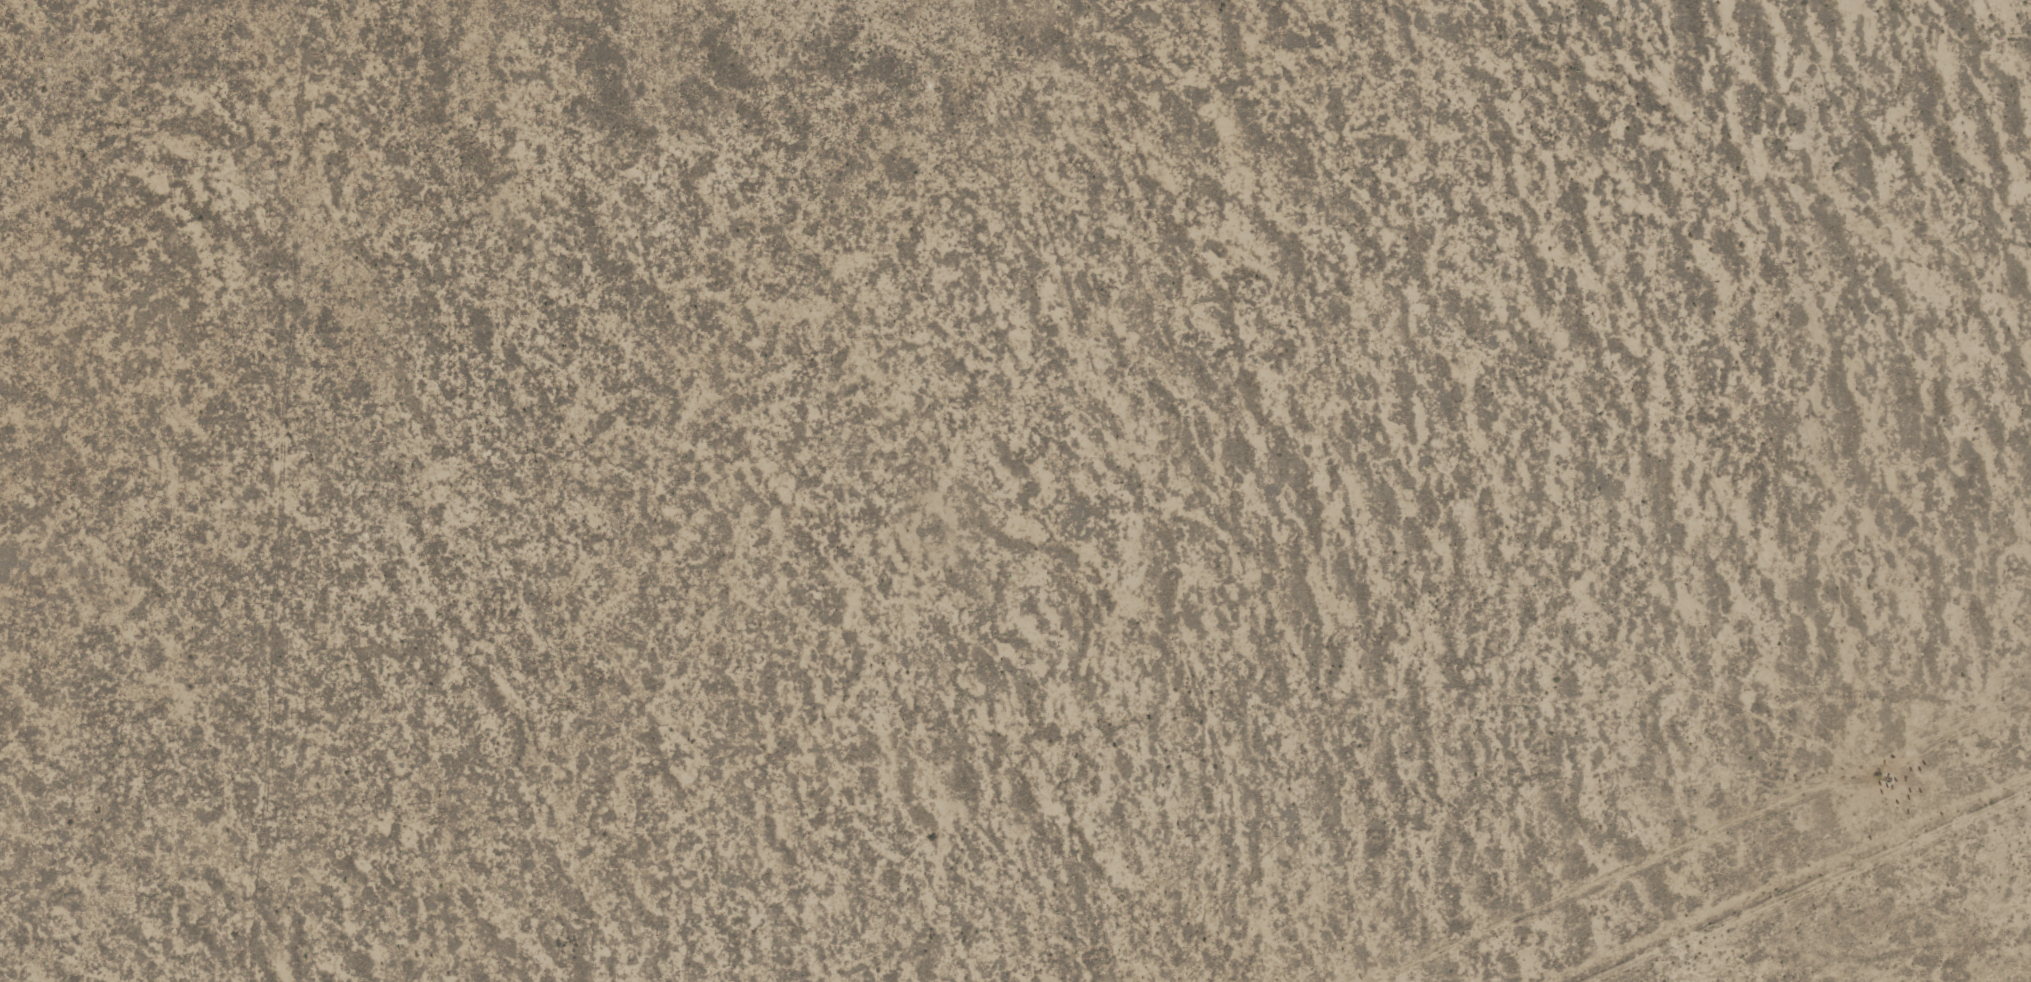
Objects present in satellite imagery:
road: (2029, 0)

